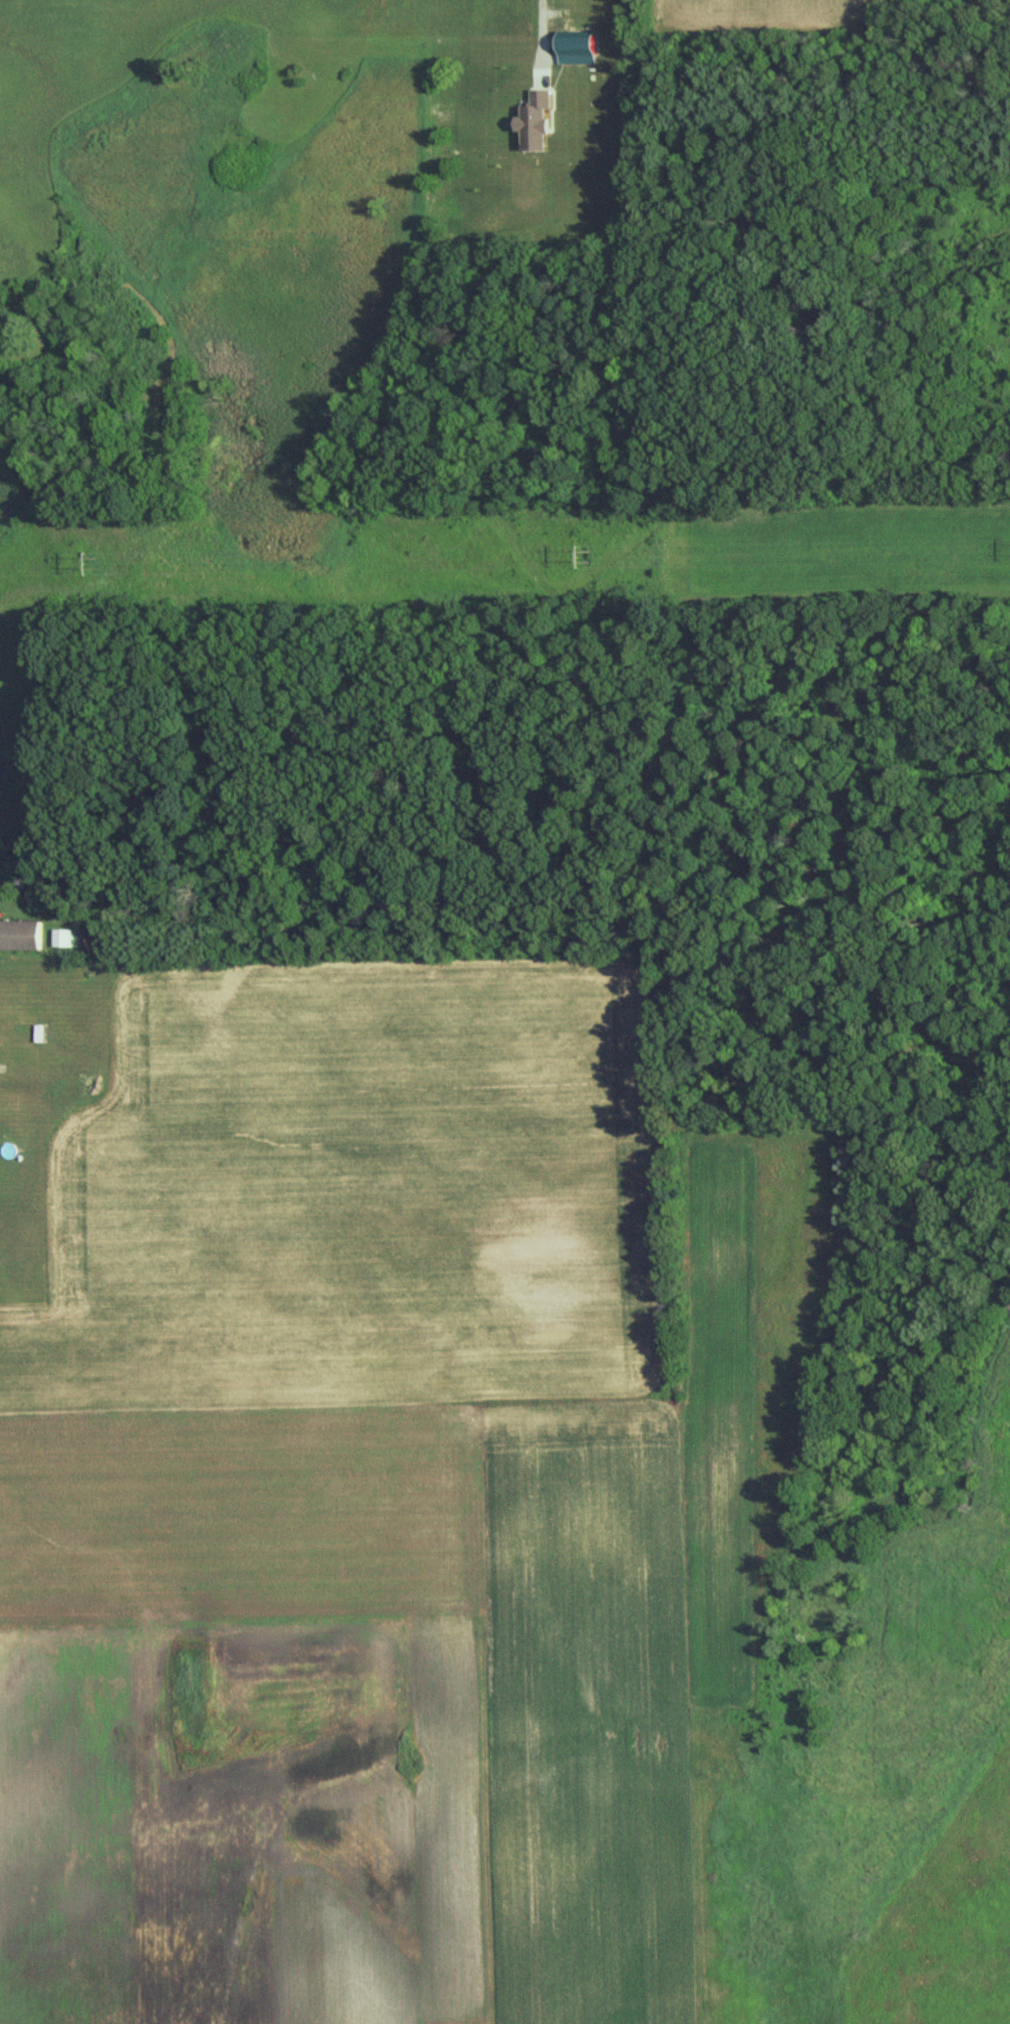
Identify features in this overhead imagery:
building: (584, 47)
building: (540, 119)
power tower: (592, 554)
power tower: (101, 563)
building: (25, 932)
building: (67, 935)

